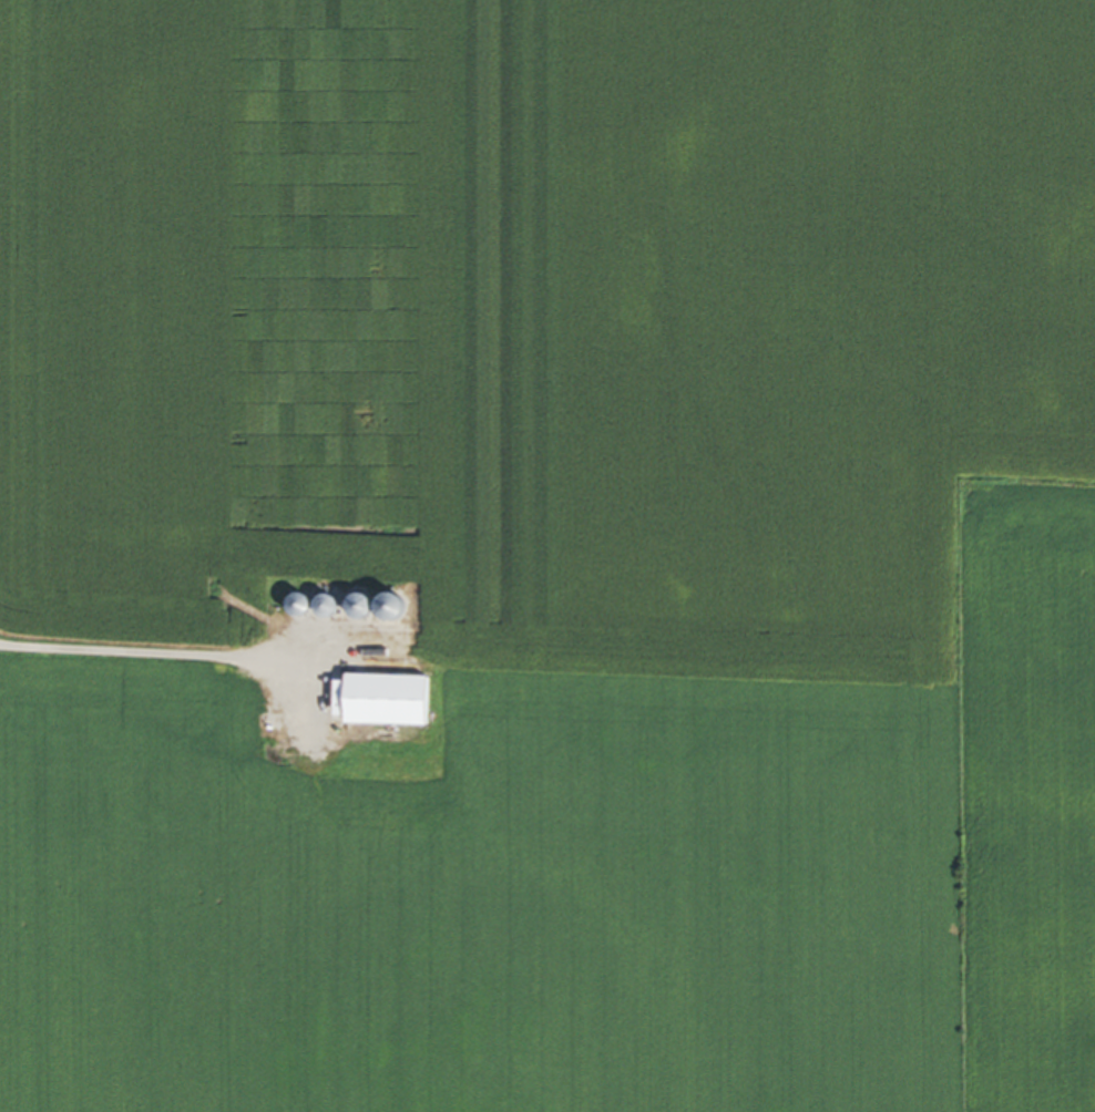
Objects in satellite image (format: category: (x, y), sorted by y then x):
building: (309, 608)
building: (336, 609)
building: (371, 610)
road: (141, 647)
building: (395, 704)

